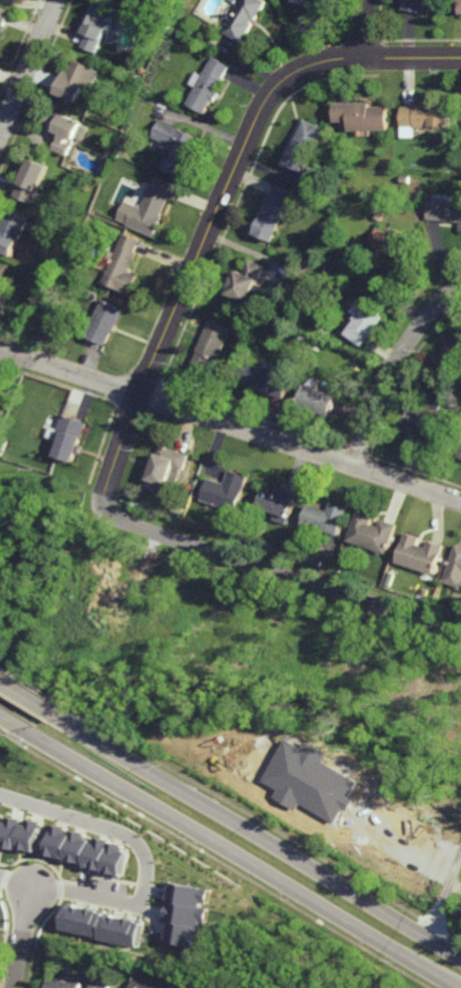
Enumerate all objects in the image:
building: (232, 1)
building: (307, 2)
building: (415, 4)
building: (459, 6)
building: (4, 14)
building: (243, 18)
building: (98, 25)
road: (365, 28)
building: (108, 43)
road: (29, 70)
building: (144, 71)
building: (78, 79)
building: (208, 85)
building: (362, 114)
building: (427, 114)
building: (64, 128)
building: (304, 144)
building: (174, 145)
building: (31, 179)
building: (406, 179)
building: (388, 206)
building: (151, 207)
road: (218, 207)
building: (444, 210)
building: (274, 212)
building: (381, 214)
building: (460, 230)
building: (11, 231)
building: (392, 242)
building: (123, 265)
building: (4, 277)
building: (246, 280)
building: (105, 321)
building: (364, 321)
building: (306, 344)
building: (211, 345)
building: (452, 354)
road: (393, 367)
building: (268, 380)
building: (355, 382)
building: (0, 390)
building: (317, 400)
building: (432, 423)
road: (230, 425)
building: (68, 437)
building: (2, 446)
building: (460, 454)
building: (166, 470)
building: (225, 490)
building: (279, 503)
building: (182, 511)
building: (326, 518)
building: (372, 533)
building: (421, 555)
building: (455, 569)
road: (284, 574)
road: (1, 682)
road: (31, 701)
road: (12, 721)
building: (312, 781)
road: (375, 819)
building: (21, 834)
road: (260, 838)
building: (87, 851)
road: (240, 857)
road: (147, 871)
road: (435, 879)
road: (444, 897)
building: (189, 915)
building: (104, 925)
road: (23, 936)
building: (206, 978)
building: (66, 984)
building: (103, 985)
building: (142, 985)

